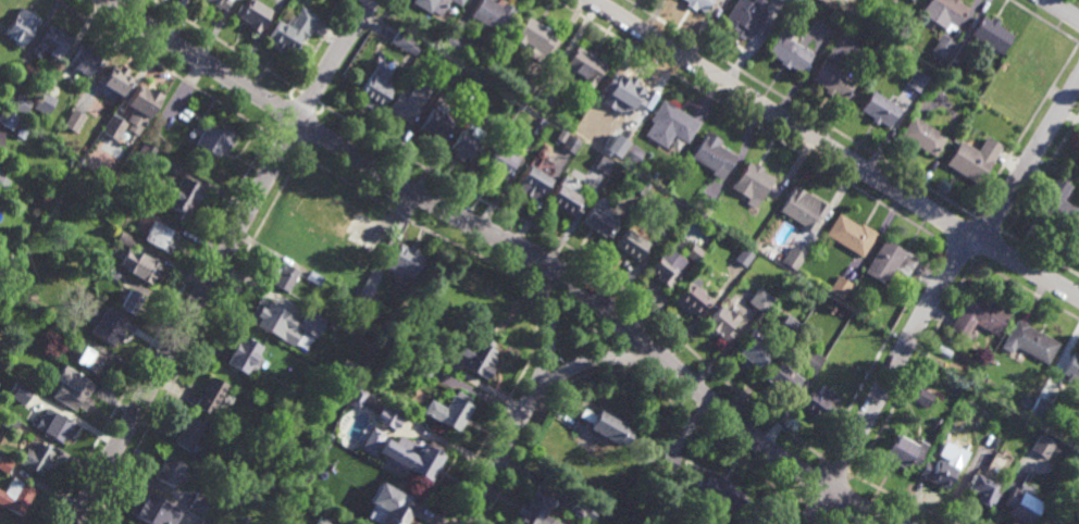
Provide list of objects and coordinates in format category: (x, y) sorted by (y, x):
building: (914, 0)
building: (783, 1)
building: (458, 2)
building: (218, 3)
building: (697, 4)
building: (432, 5)
building: (868, 9)
road: (1062, 10)
road: (466, 11)
building: (946, 11)
building: (251, 14)
building: (493, 14)
building: (743, 15)
road: (377, 20)
road: (1043, 22)
building: (21, 27)
building: (292, 30)
building: (992, 35)
building: (534, 38)
road: (559, 39)
building: (451, 41)
building: (53, 42)
road: (224, 42)
road: (319, 42)
building: (405, 42)
road: (572, 43)
building: (942, 47)
building: (957, 52)
building: (789, 53)
building: (84, 61)
building: (1031, 64)
building: (443, 65)
building: (583, 67)
road: (166, 68)
road: (663, 73)
building: (115, 80)
building: (833, 80)
building: (917, 80)
building: (478, 82)
building: (375, 88)
building: (524, 89)
building: (628, 93)
road: (307, 96)
building: (541, 98)
road: (708, 98)
building: (145, 100)
building: (22, 102)
building: (408, 102)
building: (40, 107)
road: (802, 108)
building: (880, 109)
building: (8, 118)
building: (74, 120)
road: (751, 122)
building: (437, 123)
building: (541, 123)
building: (669, 125)
building: (114, 127)
road: (412, 128)
building: (65, 132)
road: (1024, 132)
building: (22, 134)
road: (290, 134)
building: (922, 137)
building: (214, 141)
road: (444, 144)
building: (467, 144)
building: (569, 146)
road: (833, 150)
building: (148, 152)
road: (483, 152)
road: (745, 153)
building: (537, 154)
building: (712, 157)
road: (1028, 159)
building: (973, 160)
building: (499, 161)
building: (601, 165)
road: (799, 165)
building: (1, 175)
road: (1043, 175)
road: (508, 176)
building: (532, 180)
building: (752, 184)
building: (638, 188)
road: (546, 189)
road: (841, 191)
building: (185, 195)
building: (563, 197)
building: (1058, 201)
building: (703, 204)
building: (142, 208)
building: (801, 211)
building: (671, 212)
building: (596, 222)
road: (572, 223)
road: (988, 223)
road: (389, 225)
road: (957, 232)
road: (516, 233)
building: (160, 234)
building: (851, 235)
road: (879, 235)
building: (629, 241)
road: (390, 242)
road: (512, 244)
road: (990, 247)
road: (605, 248)
road: (956, 250)
building: (693, 251)
road: (1040, 251)
building: (742, 254)
building: (792, 257)
building: (405, 258)
building: (137, 259)
road: (220, 259)
building: (889, 261)
road: (587, 262)
building: (663, 262)
road: (634, 266)
building: (110, 270)
road: (530, 270)
building: (282, 274)
building: (314, 276)
road: (926, 276)
road: (521, 278)
building: (352, 283)
road: (658, 284)
building: (368, 286)
building: (840, 286)
road: (1022, 288)
building: (690, 292)
building: (758, 297)
road: (661, 298)
building: (131, 299)
building: (90, 300)
building: (297, 305)
building: (358, 309)
building: (266, 311)
road: (699, 314)
building: (978, 315)
road: (544, 316)
road: (585, 316)
building: (720, 321)
building: (104, 323)
building: (786, 325)
road: (158, 327)
building: (72, 332)
road: (197, 338)
building: (1029, 340)
building: (751, 347)
building: (427, 348)
road: (880, 348)
road: (722, 350)
building: (245, 353)
building: (479, 353)
road: (632, 358)
building: (91, 359)
building: (810, 361)
building: (421, 364)
road: (619, 367)
road: (914, 367)
building: (1071, 367)
building: (782, 377)
road: (885, 378)
road: (753, 380)
building: (345, 385)
building: (1004, 385)
building: (73, 387)
road: (535, 390)
building: (18, 392)
building: (210, 394)
building: (922, 396)
building: (36, 397)
building: (354, 397)
road: (557, 399)
building: (818, 401)
building: (1040, 407)
building: (450, 408)
building: (386, 412)
road: (785, 414)
building: (9, 422)
road: (689, 422)
building: (605, 423)
building: (57, 425)
building: (188, 432)
building: (367, 435)
building: (1042, 445)
building: (903, 450)
building: (36, 457)
building: (418, 457)
building: (646, 459)
building: (668, 460)
building: (5, 463)
building: (993, 465)
road: (836, 467)
building: (169, 470)
building: (939, 471)
road: (805, 478)
building: (982, 488)
building: (719, 491)
building: (16, 495)
road: (902, 498)
road: (842, 499)
building: (199, 502)
building: (393, 502)
building: (1021, 503)
building: (538, 507)
building: (580, 509)
building: (152, 511)
road: (789, 513)
road: (810, 515)
building: (184, 516)
building: (1051, 517)
building: (610, 520)
building: (323, 521)
building: (3, 522)
building: (203, 522)
building: (629, 522)
building: (687, 522)
building: (128, 523)

